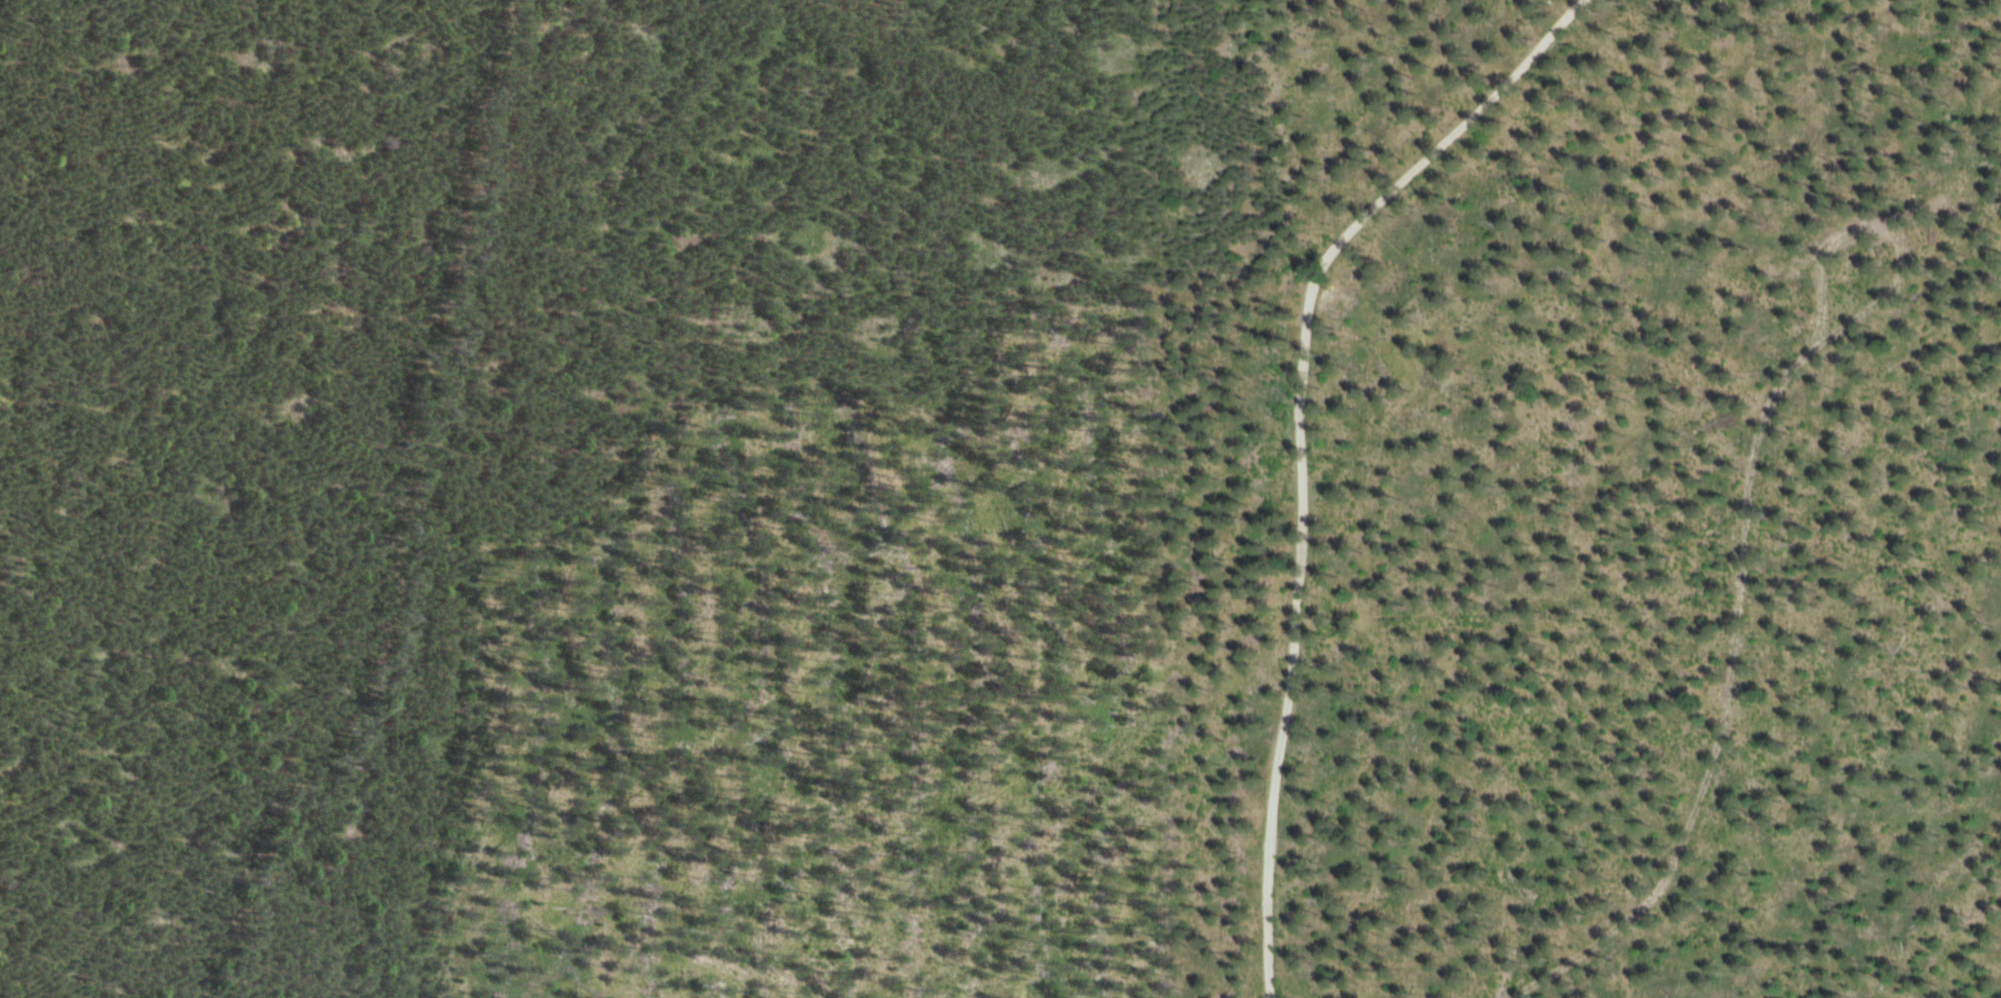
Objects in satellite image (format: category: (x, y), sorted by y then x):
road: (1295, 442)

